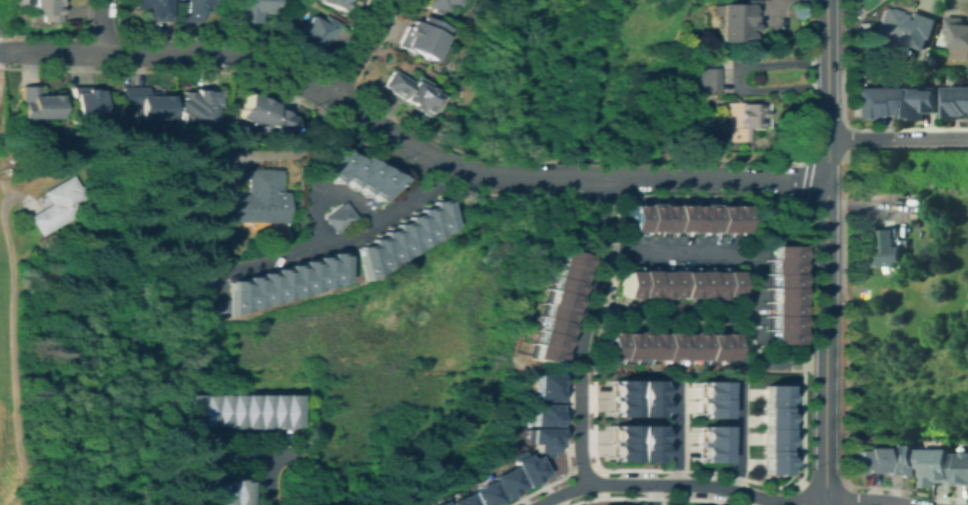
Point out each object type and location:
building: (335, 3)
building: (438, 4)
building: (155, 9)
building: (193, 9)
building: (46, 10)
building: (247, 10)
building: (740, 21)
road: (99, 26)
building: (907, 28)
building: (315, 32)
building: (957, 32)
building: (424, 37)
road: (359, 50)
building: (704, 79)
road: (828, 88)
building: (412, 92)
building: (871, 101)
building: (956, 102)
building: (145, 103)
building: (918, 103)
building: (38, 104)
building: (87, 106)
building: (196, 108)
building: (263, 114)
building: (739, 120)
road: (898, 139)
road: (406, 142)
road: (292, 148)
building: (324, 160)
building: (337, 167)
building: (353, 171)
building: (212, 178)
building: (365, 178)
building: (378, 185)
road: (803, 188)
road: (317, 196)
road: (330, 196)
road: (603, 197)
building: (258, 199)
building: (58, 205)
building: (435, 214)
building: (337, 218)
building: (630, 218)
building: (644, 218)
building: (658, 218)
building: (673, 218)
building: (687, 218)
building: (701, 218)
building: (715, 218)
building: (729, 218)
building: (422, 223)
building: (919, 224)
building: (409, 230)
building: (397, 238)
building: (385, 245)
road: (322, 247)
building: (889, 250)
road: (707, 251)
building: (778, 251)
building: (372, 252)
building: (360, 259)
building: (565, 259)
road: (599, 261)
building: (778, 265)
building: (330, 268)
building: (314, 272)
building: (562, 272)
building: (54, 274)
building: (301, 276)
building: (778, 279)
building: (287, 280)
building: (625, 283)
building: (639, 283)
building: (654, 283)
building: (668, 283)
building: (682, 283)
building: (696, 283)
building: (709, 283)
building: (724, 283)
building: (273, 284)
building: (558, 286)
building: (259, 288)
building: (245, 292)
building: (778, 294)
building: (231, 296)
building: (555, 300)
building: (209, 305)
building: (778, 308)
road: (802, 312)
building: (552, 313)
road: (723, 314)
building: (778, 322)
building: (548, 327)
building: (778, 336)
building: (545, 340)
road: (828, 341)
building: (708, 344)
road: (13, 345)
building: (610, 345)
building: (624, 345)
building: (638, 345)
building: (652, 345)
building: (666, 345)
building: (680, 345)
building: (694, 345)
building: (723, 345)
building: (542, 355)
building: (547, 386)
building: (619, 389)
building: (644, 389)
building: (707, 390)
building: (768, 394)
building: (619, 406)
building: (643, 407)
building: (707, 407)
building: (193, 410)
building: (206, 410)
building: (219, 410)
building: (233, 410)
building: (246, 410)
building: (259, 410)
building: (272, 410)
building: (285, 410)
building: (545, 414)
road: (581, 414)
building: (768, 416)
building: (619, 434)
building: (643, 434)
road: (676, 434)
building: (707, 434)
road: (737, 438)
building: (768, 438)
building: (540, 439)
road: (227, 442)
building: (619, 452)
building: (643, 452)
building: (707, 452)
road: (244, 454)
road: (564, 455)
building: (901, 460)
building: (768, 461)
building: (866, 461)
road: (596, 466)
building: (934, 467)
building: (961, 469)
building: (527, 470)
road: (266, 479)
building: (502, 481)
road: (626, 484)
building: (194, 492)
building: (208, 492)
building: (223, 492)
building: (237, 492)
road: (797, 492)
road: (559, 493)
building: (480, 494)
road: (653, 494)
road: (650, 497)
road: (742, 499)
building: (456, 500)
road: (553, 500)
road: (780, 501)
building: (434, 503)

